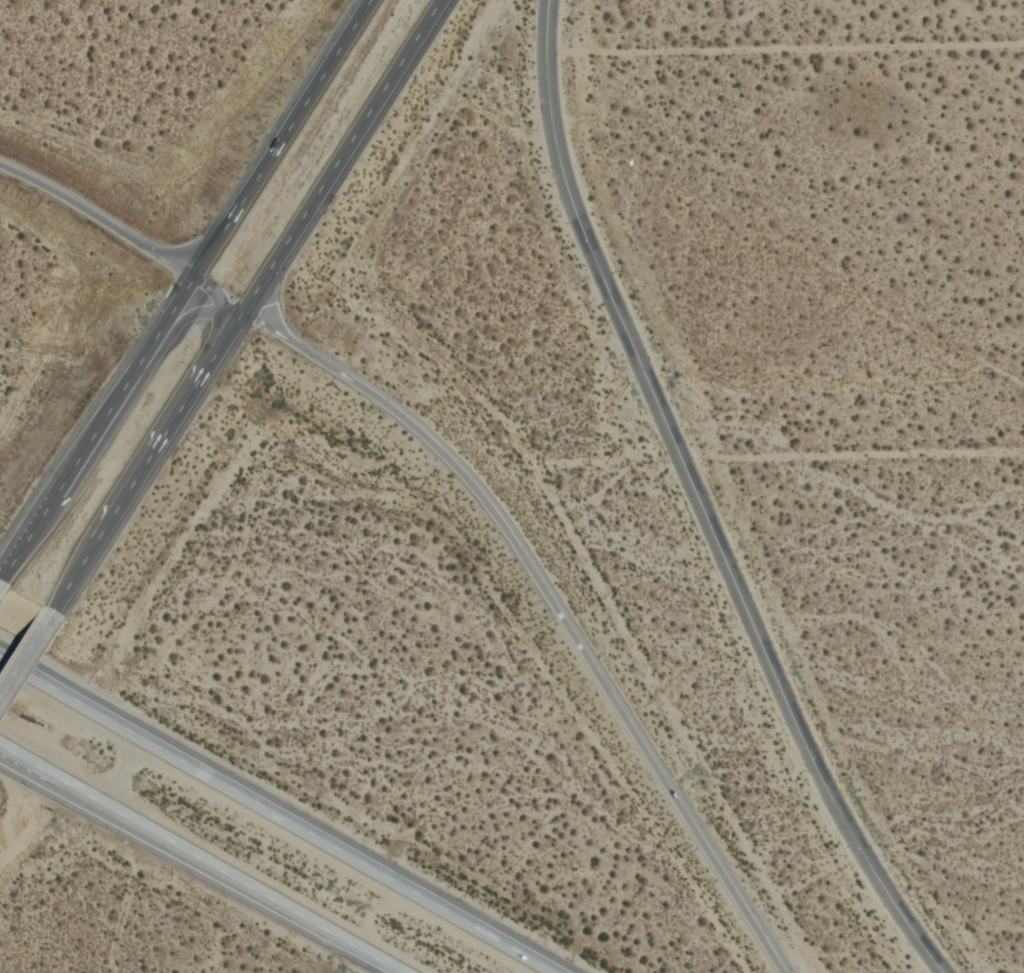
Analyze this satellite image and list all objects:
road: (275, 138)
road: (339, 154)
road: (95, 218)
road: (202, 288)
road: (227, 307)
crop: (861, 360)
road: (104, 414)
road: (113, 424)
road: (141, 445)
road: (142, 458)
road: (700, 502)
road: (7, 560)
road: (549, 606)
road: (24, 647)
road: (285, 812)
road: (208, 854)
road: (200, 855)

